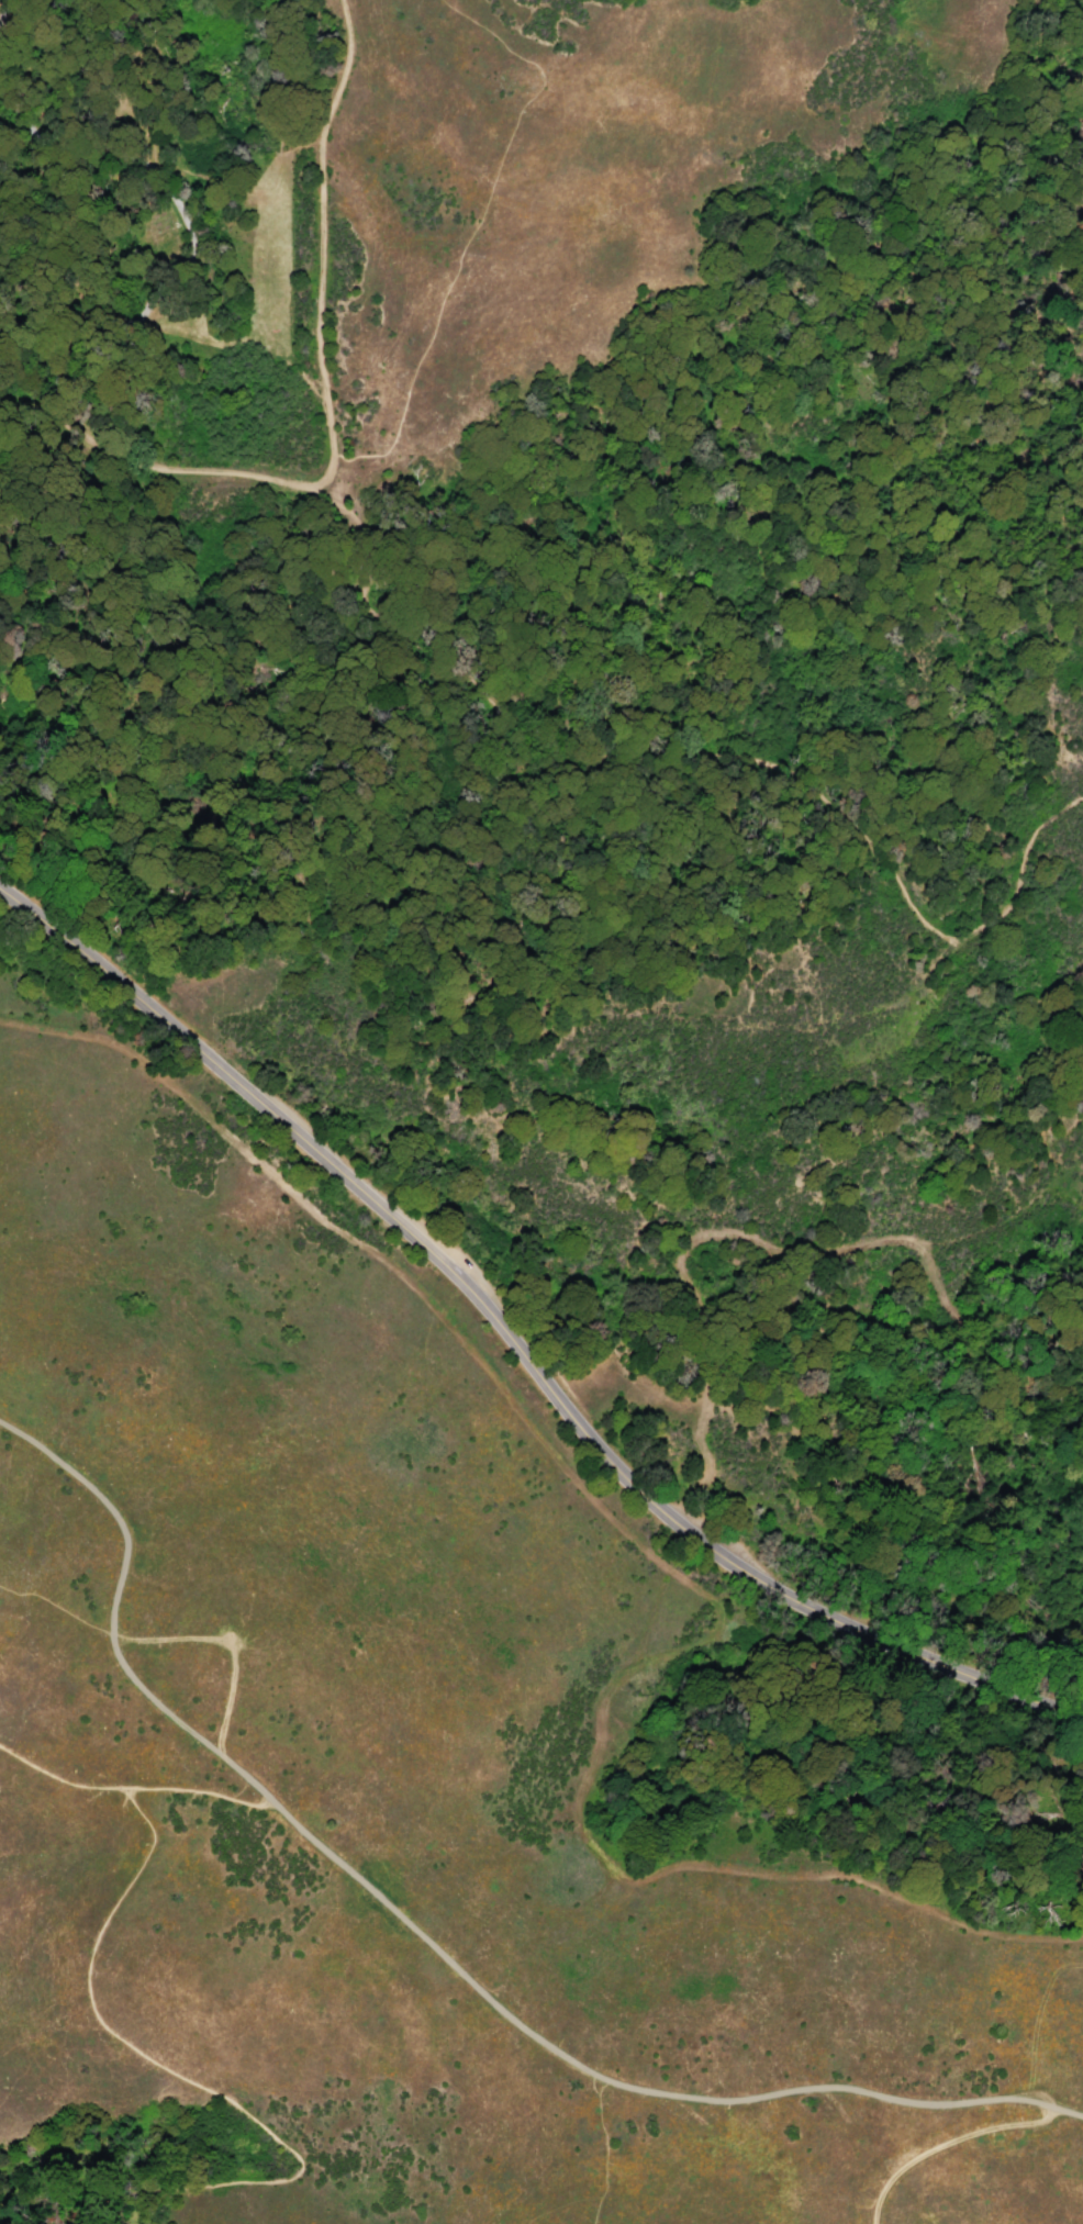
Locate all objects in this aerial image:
road: (471, 228)
road: (317, 238)
road: (157, 471)
road: (695, 764)
road: (515, 1349)
road: (114, 1617)
road: (238, 1636)
road: (135, 1786)
road: (590, 2072)
road: (189, 2083)
road: (1041, 2105)
road: (944, 2143)
road: (601, 2150)

